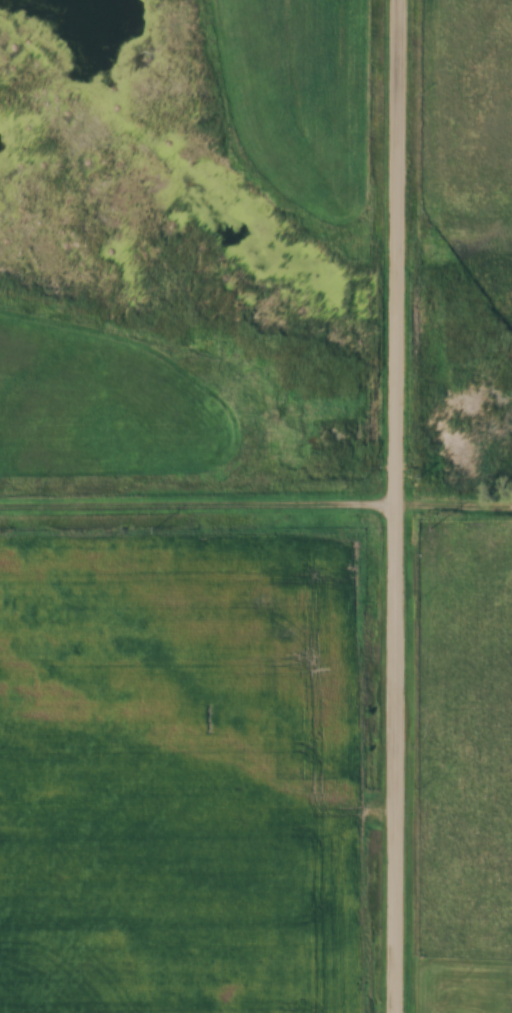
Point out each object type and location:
road: (255, 506)
road: (402, 506)

